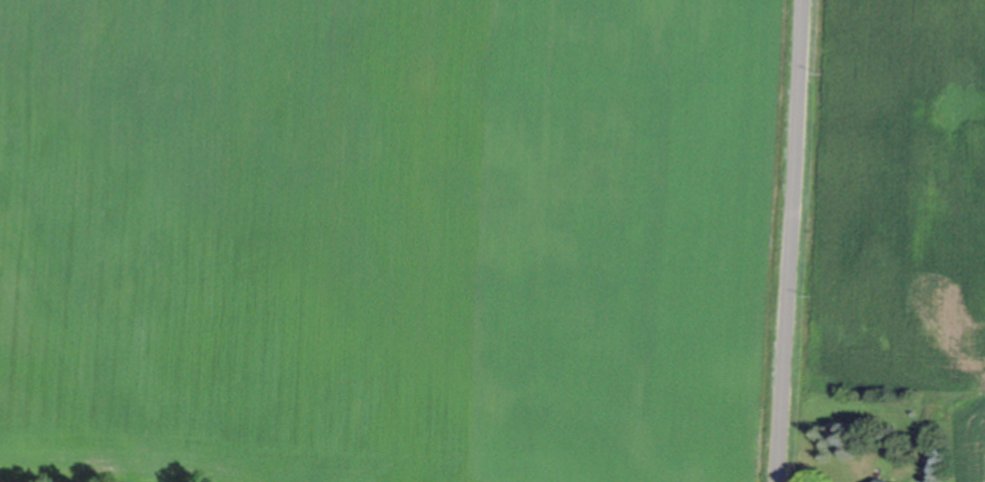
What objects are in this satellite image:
road: (789, 241)
building: (881, 480)
road: (779, 481)

